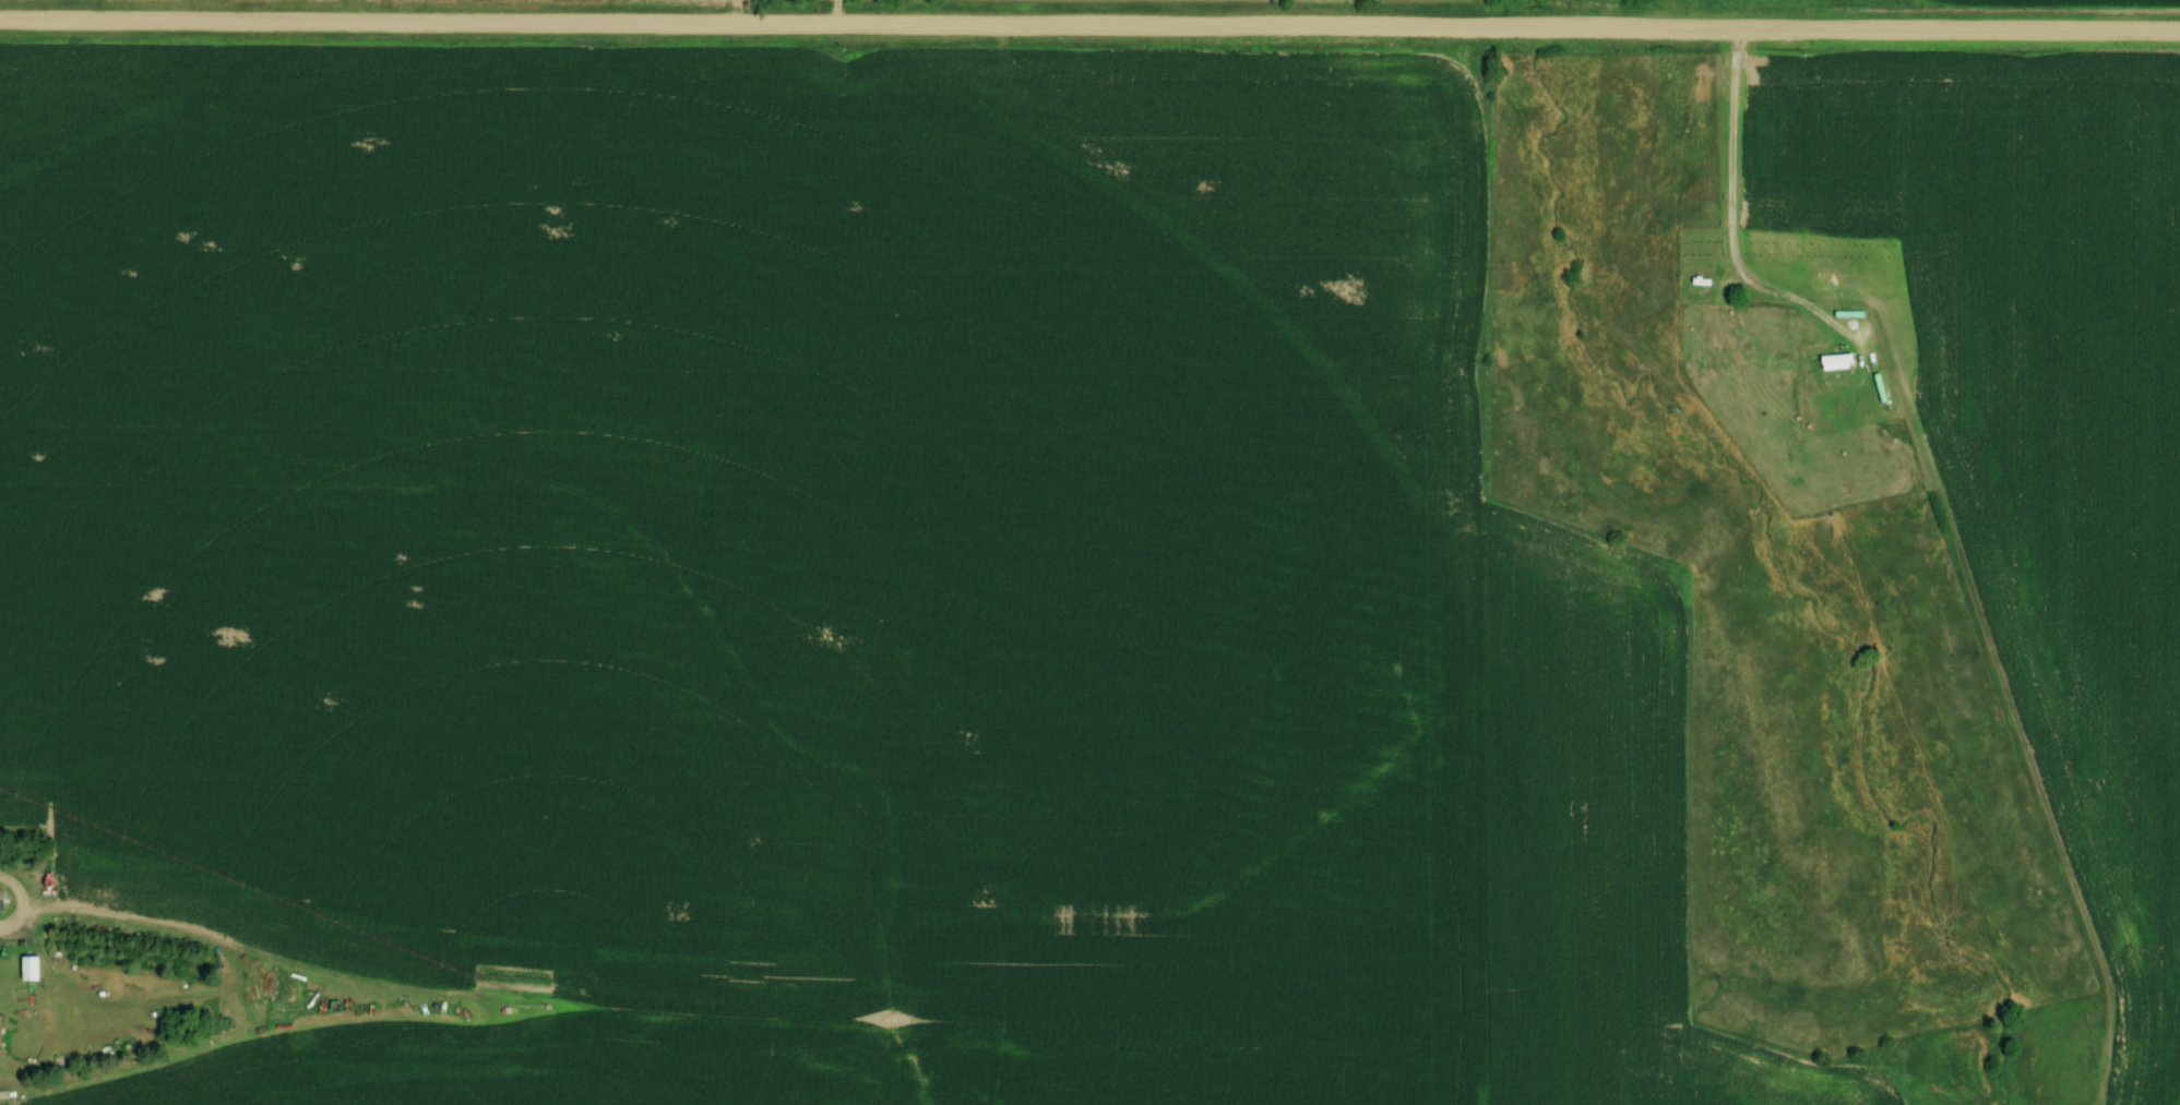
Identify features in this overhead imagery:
road: (834, 10)
road: (1089, 22)
building: (1834, 362)
building: (1, 899)
building: (27, 968)

